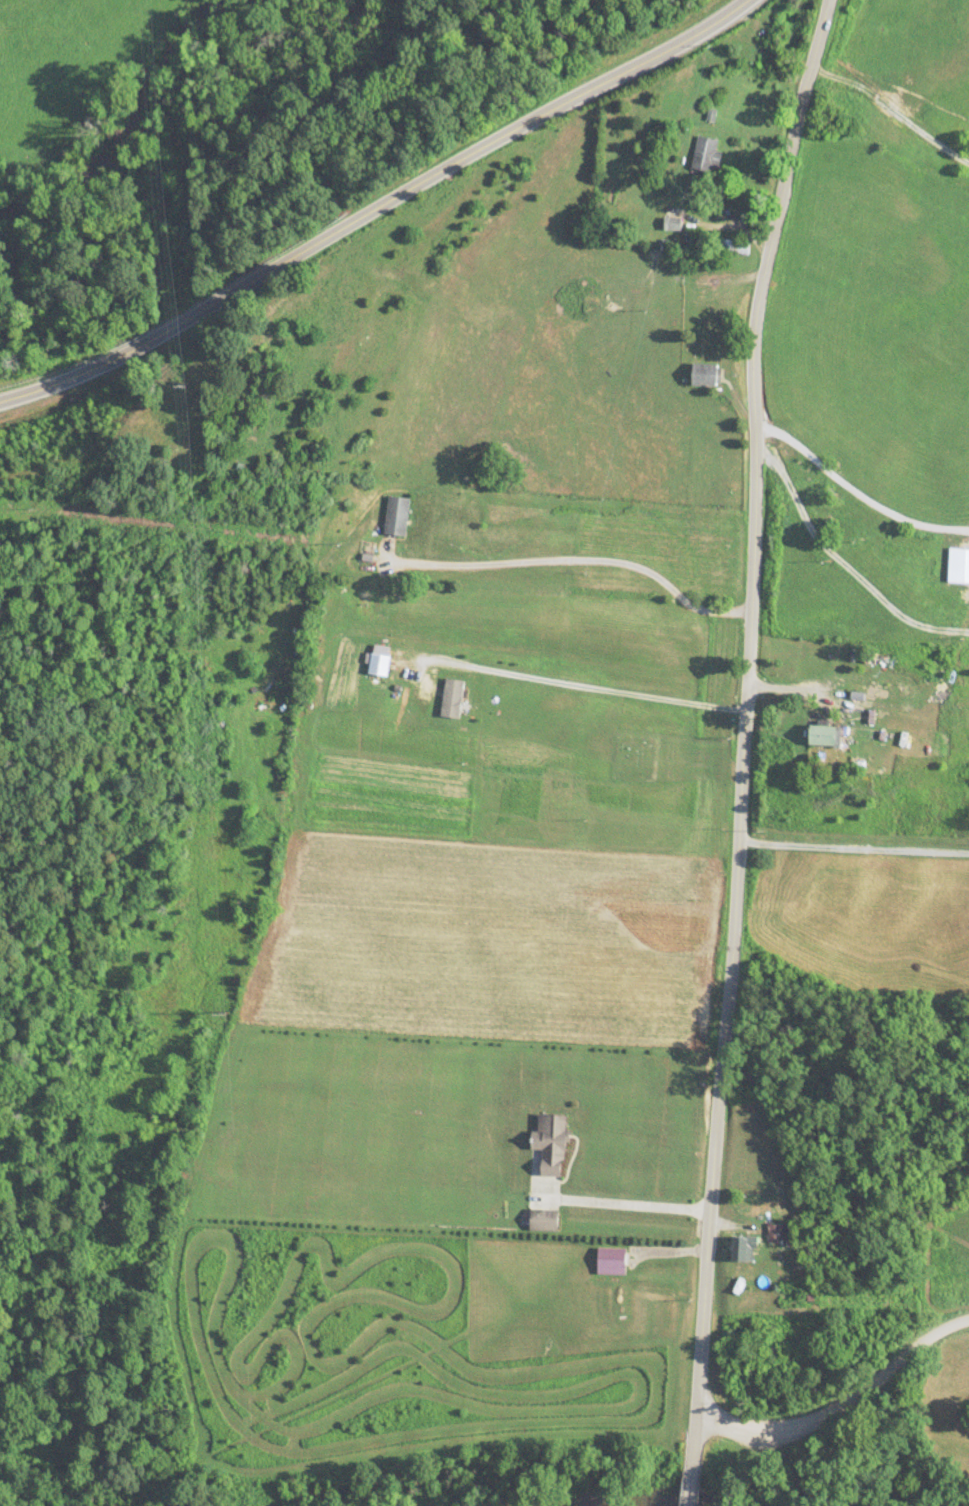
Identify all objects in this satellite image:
river: (127, 129)
building: (705, 156)
road: (380, 212)
building: (672, 225)
building: (703, 376)
power tower: (186, 383)
road: (623, 413)
building: (396, 518)
building: (958, 568)
road: (800, 702)
road: (740, 727)
building: (821, 736)
power tower: (220, 1008)
building: (750, 1081)
building: (550, 1144)
road: (625, 1206)
building: (543, 1220)
building: (778, 1233)
building: (743, 1249)
building: (610, 1260)
road: (846, 1405)
road: (691, 1485)

